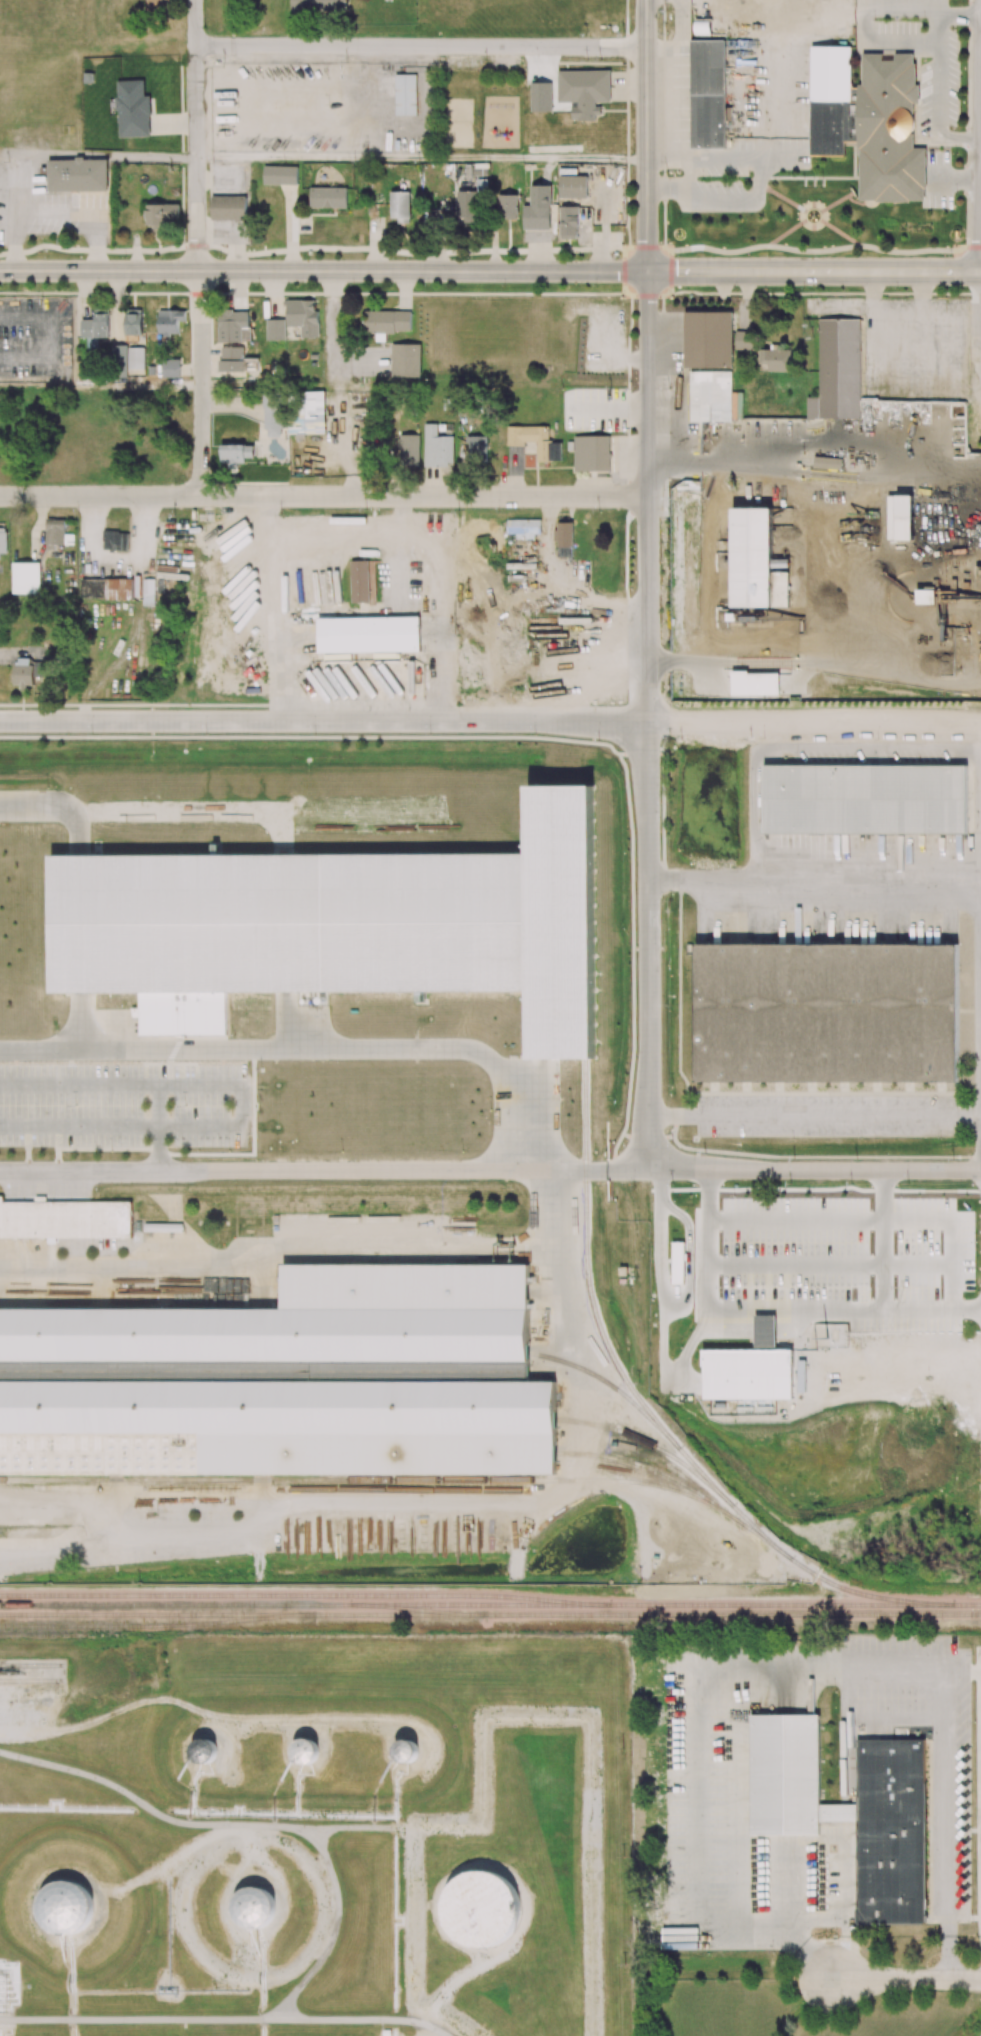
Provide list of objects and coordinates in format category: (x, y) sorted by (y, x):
road: (905, 8)
road: (960, 13)
road: (939, 28)
road: (885, 41)
road: (420, 47)
road: (195, 101)
road: (938, 107)
park: (459, 123)
road: (646, 135)
road: (980, 136)
road: (98, 155)
road: (421, 157)
road: (725, 162)
road: (974, 247)
road: (97, 251)
road: (807, 251)
road: (421, 255)
road: (323, 271)
road: (814, 271)
road: (50, 337)
building: (709, 339)
road: (200, 349)
road: (776, 469)
road: (322, 496)
building: (900, 517)
road: (334, 542)
building: (27, 576)
building: (978, 577)
building: (359, 581)
building: (926, 596)
building: (368, 635)
road: (647, 720)
road: (490, 721)
building: (865, 799)
road: (815, 882)
building: (827, 1012)
road: (306, 1049)
road: (980, 1083)
road: (238, 1103)
road: (815, 1114)
road: (157, 1125)
road: (324, 1170)
road: (815, 1170)
road: (757, 1214)
building: (65, 1219)
building: (677, 1255)
railway: (585, 1260)
building: (863, 1266)
building: (304, 1321)
building: (749, 1368)
building: (277, 1428)
railway: (667, 1435)
railway: (653, 1444)
railway: (369, 1479)
railway: (749, 1528)
railway: (304, 1595)
railway: (238, 1604)
railway: (670, 1604)
railway: (150, 1614)
railway: (640, 1614)
railway: (150, 1625)
railway: (32, 1664)
road: (777, 1666)
railway: (32, 1680)
building: (306, 1750)
building: (205, 1751)
building: (407, 1751)
building: (783, 1773)
building: (256, 1908)
building: (66, 1909)
building: (480, 1910)
storage tank: (480, 1910)
road: (848, 1920)
road: (906, 1979)

